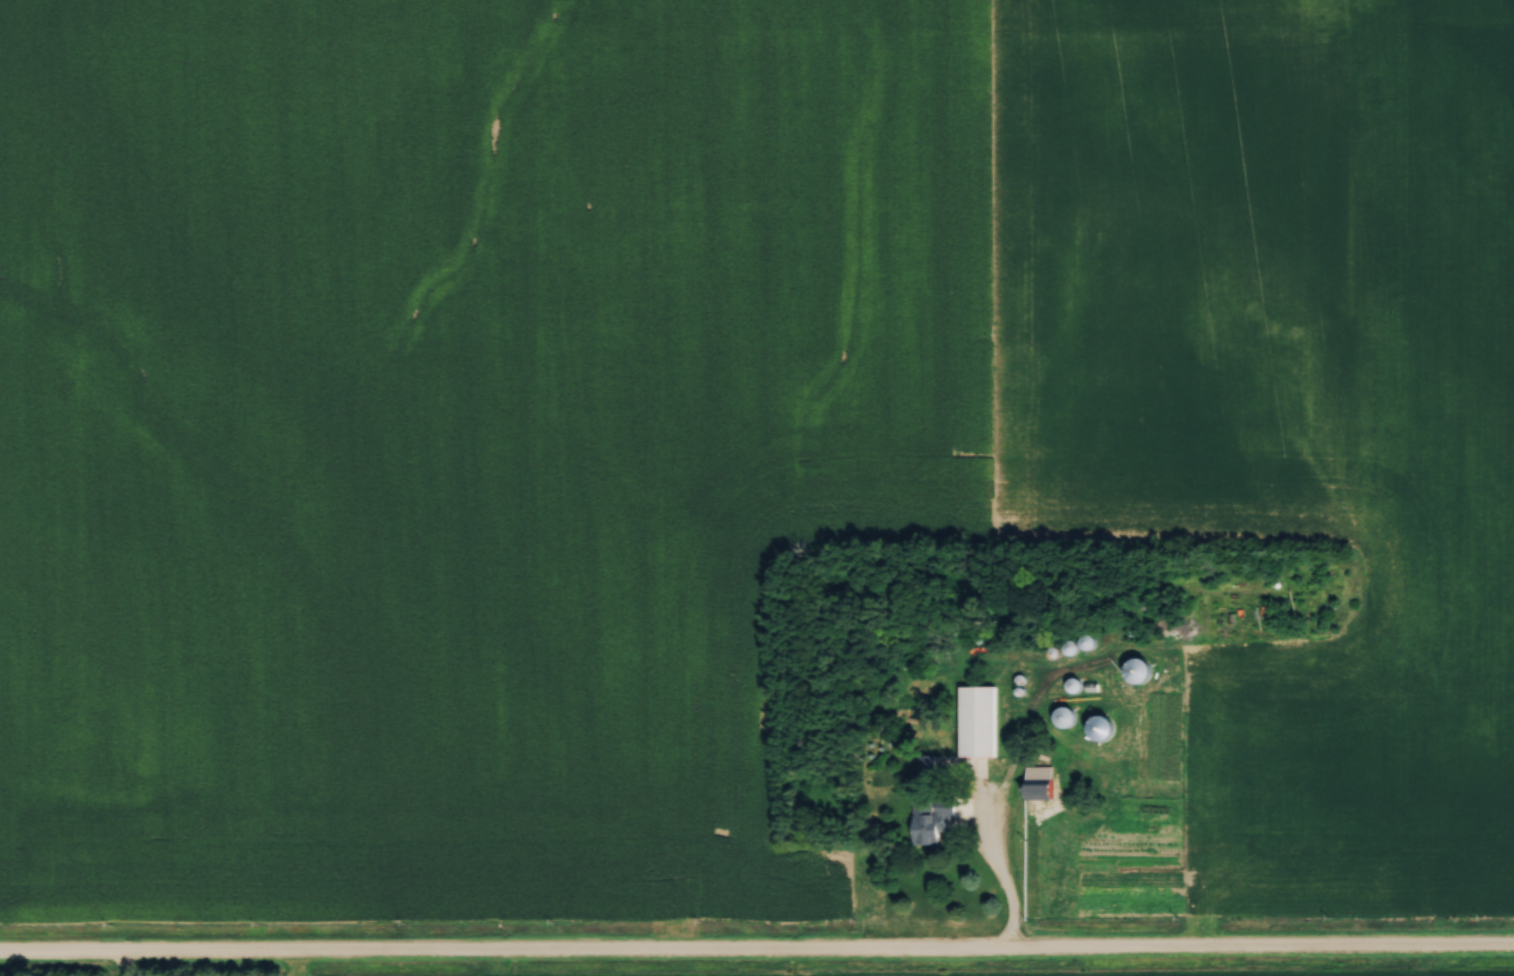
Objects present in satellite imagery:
building: (1140, 666)
building: (1067, 715)
building: (980, 719)
building: (1104, 726)
building: (1042, 780)
building: (929, 821)
road: (997, 875)
road: (756, 943)
road: (124, 962)

